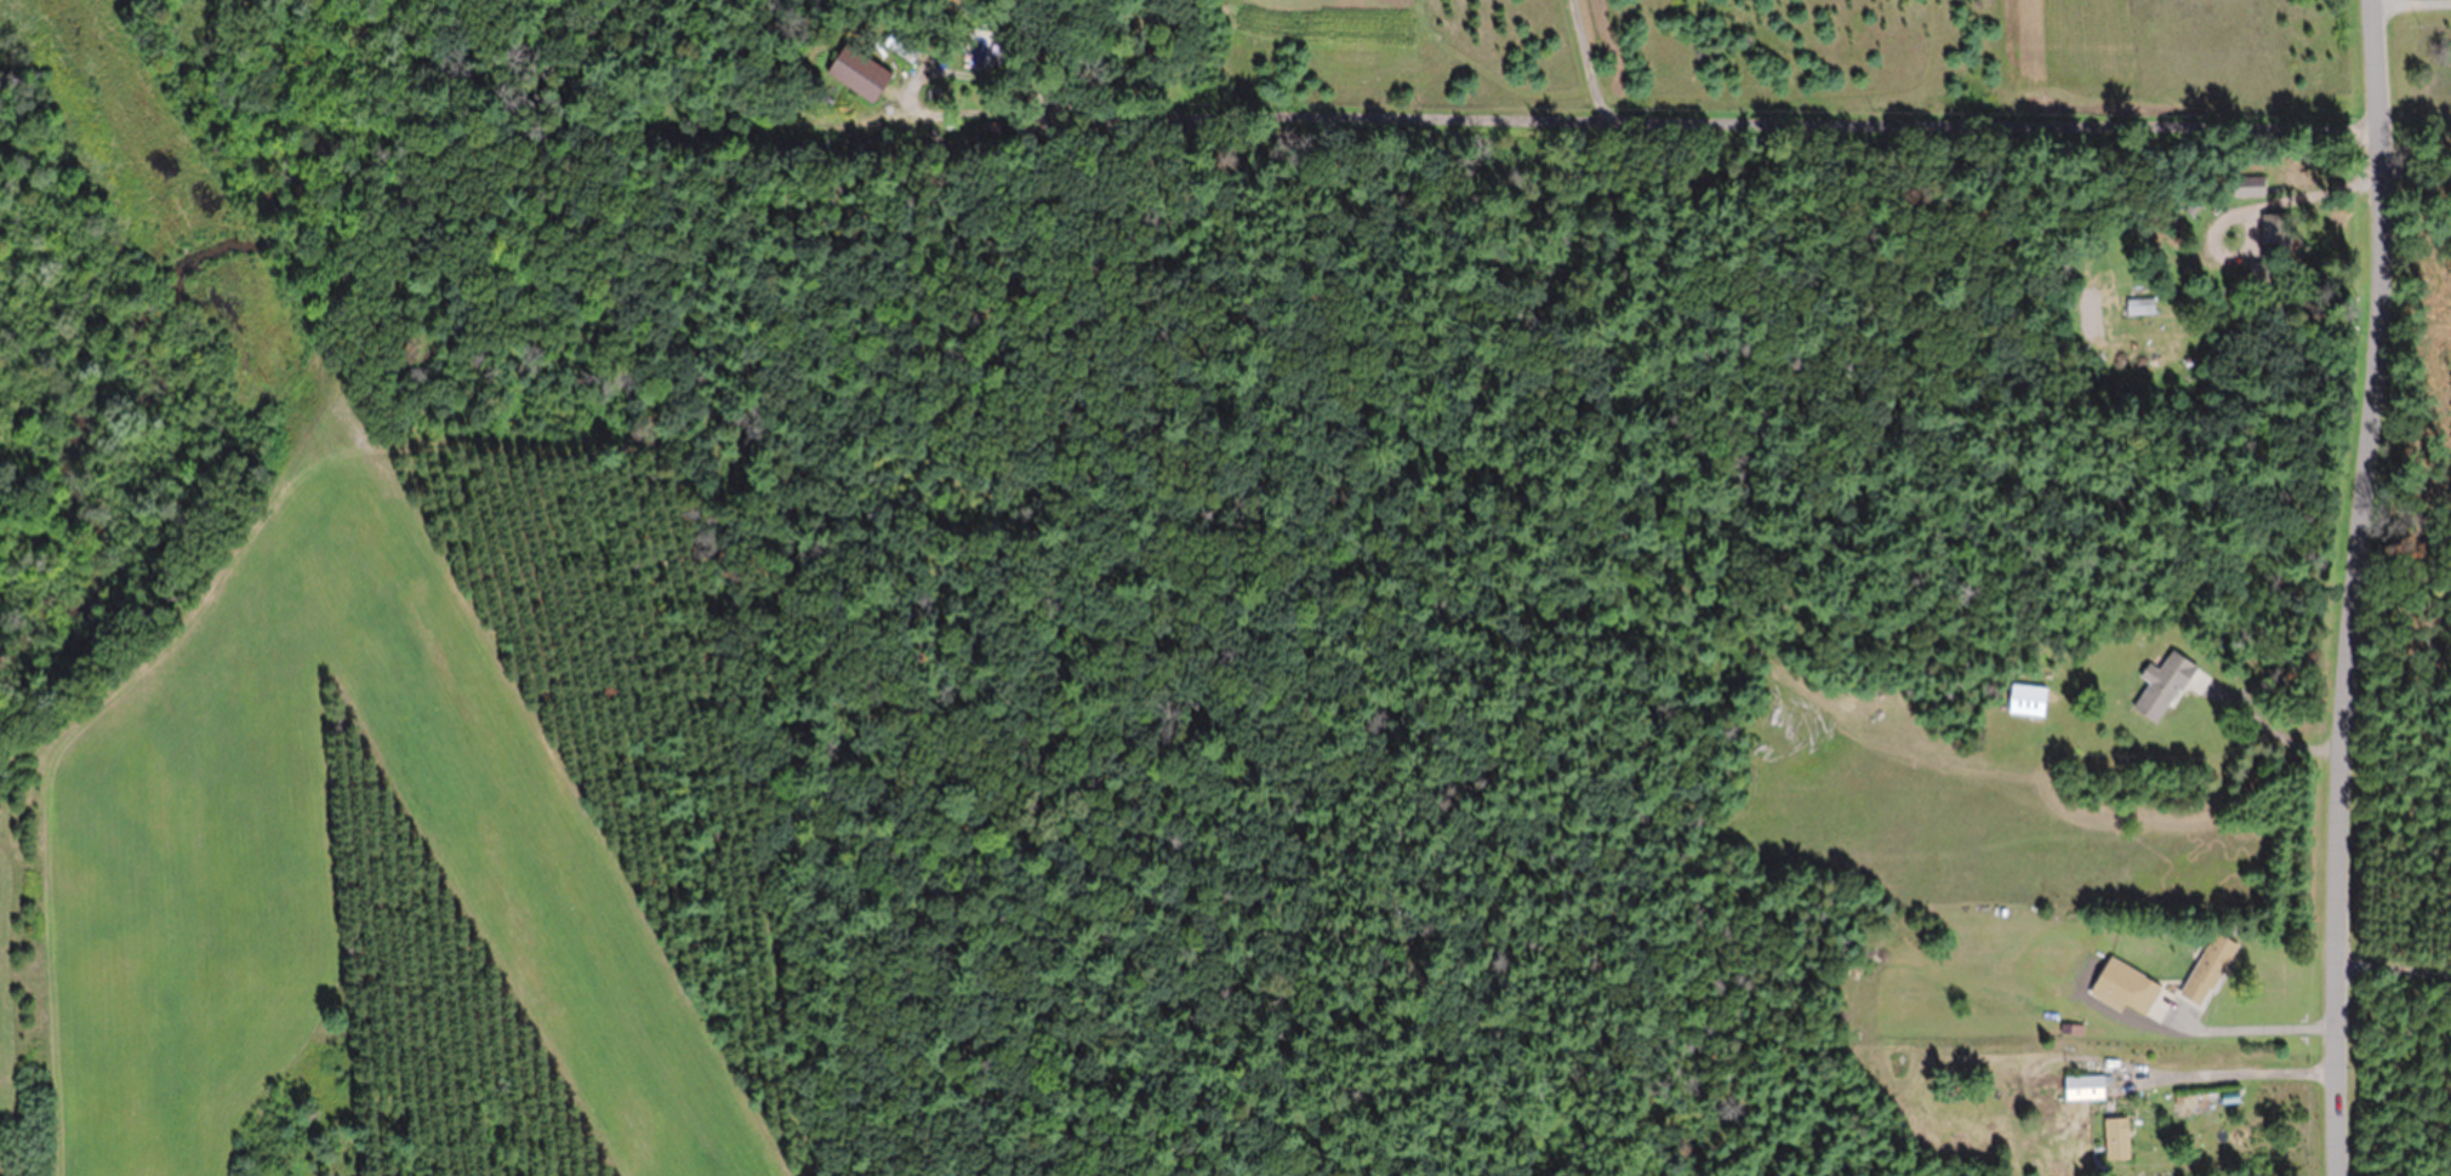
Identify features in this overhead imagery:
road: (1586, 57)
building: (868, 74)
road: (1693, 114)
building: (2136, 306)
road: (2091, 379)
road: (2352, 586)
building: (2156, 687)
building: (2204, 970)
building: (2137, 994)
building: (2079, 1087)
building: (2111, 1137)

